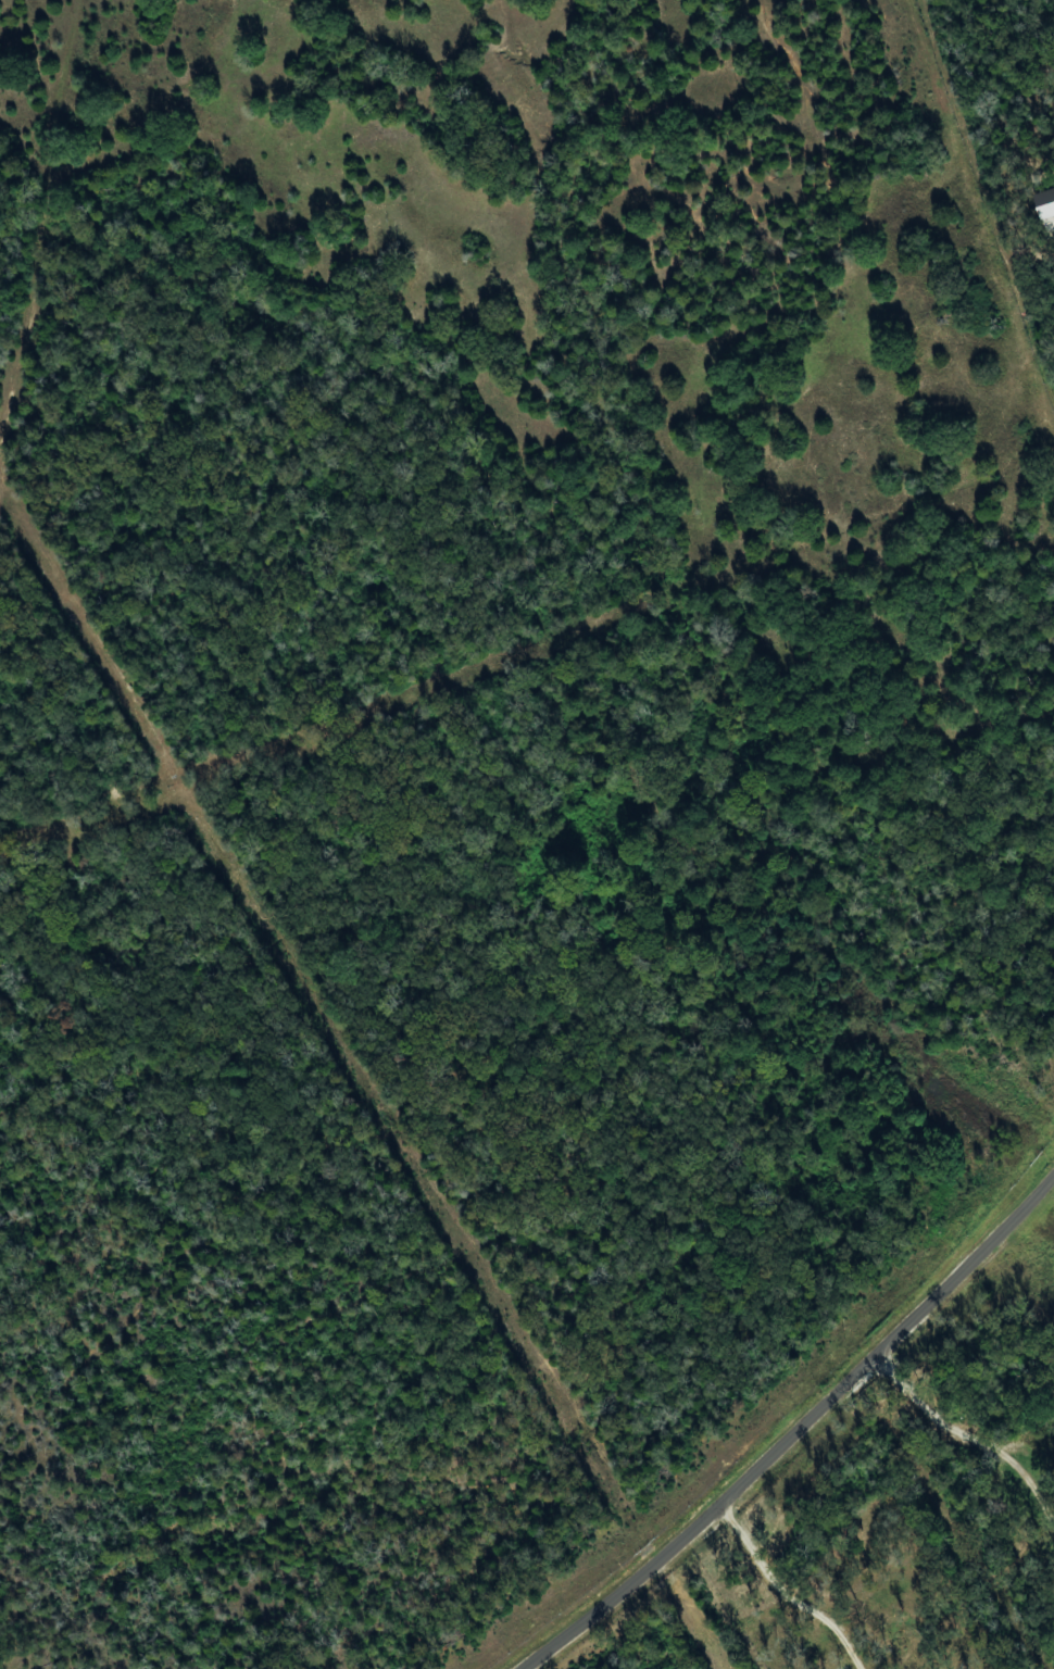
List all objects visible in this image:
building: (1045, 199)
road: (798, 1430)
road: (786, 1593)

